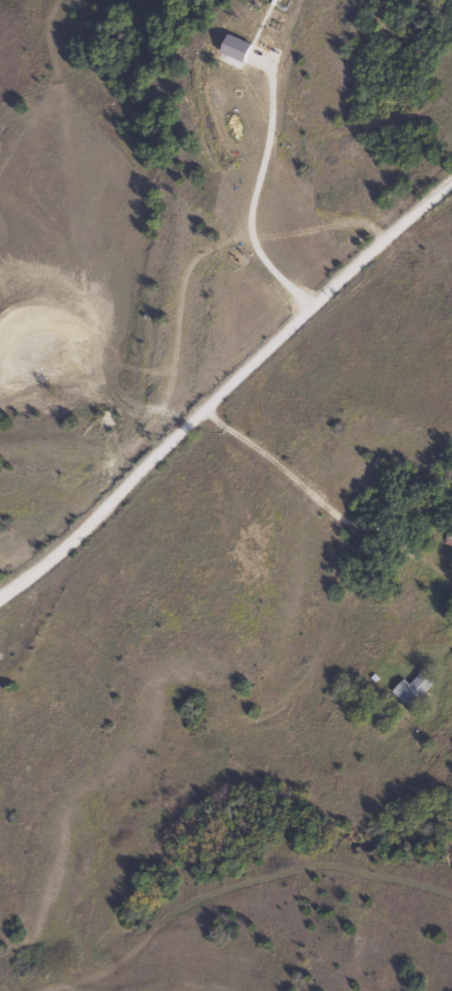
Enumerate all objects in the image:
road: (231, 386)
building: (412, 690)

